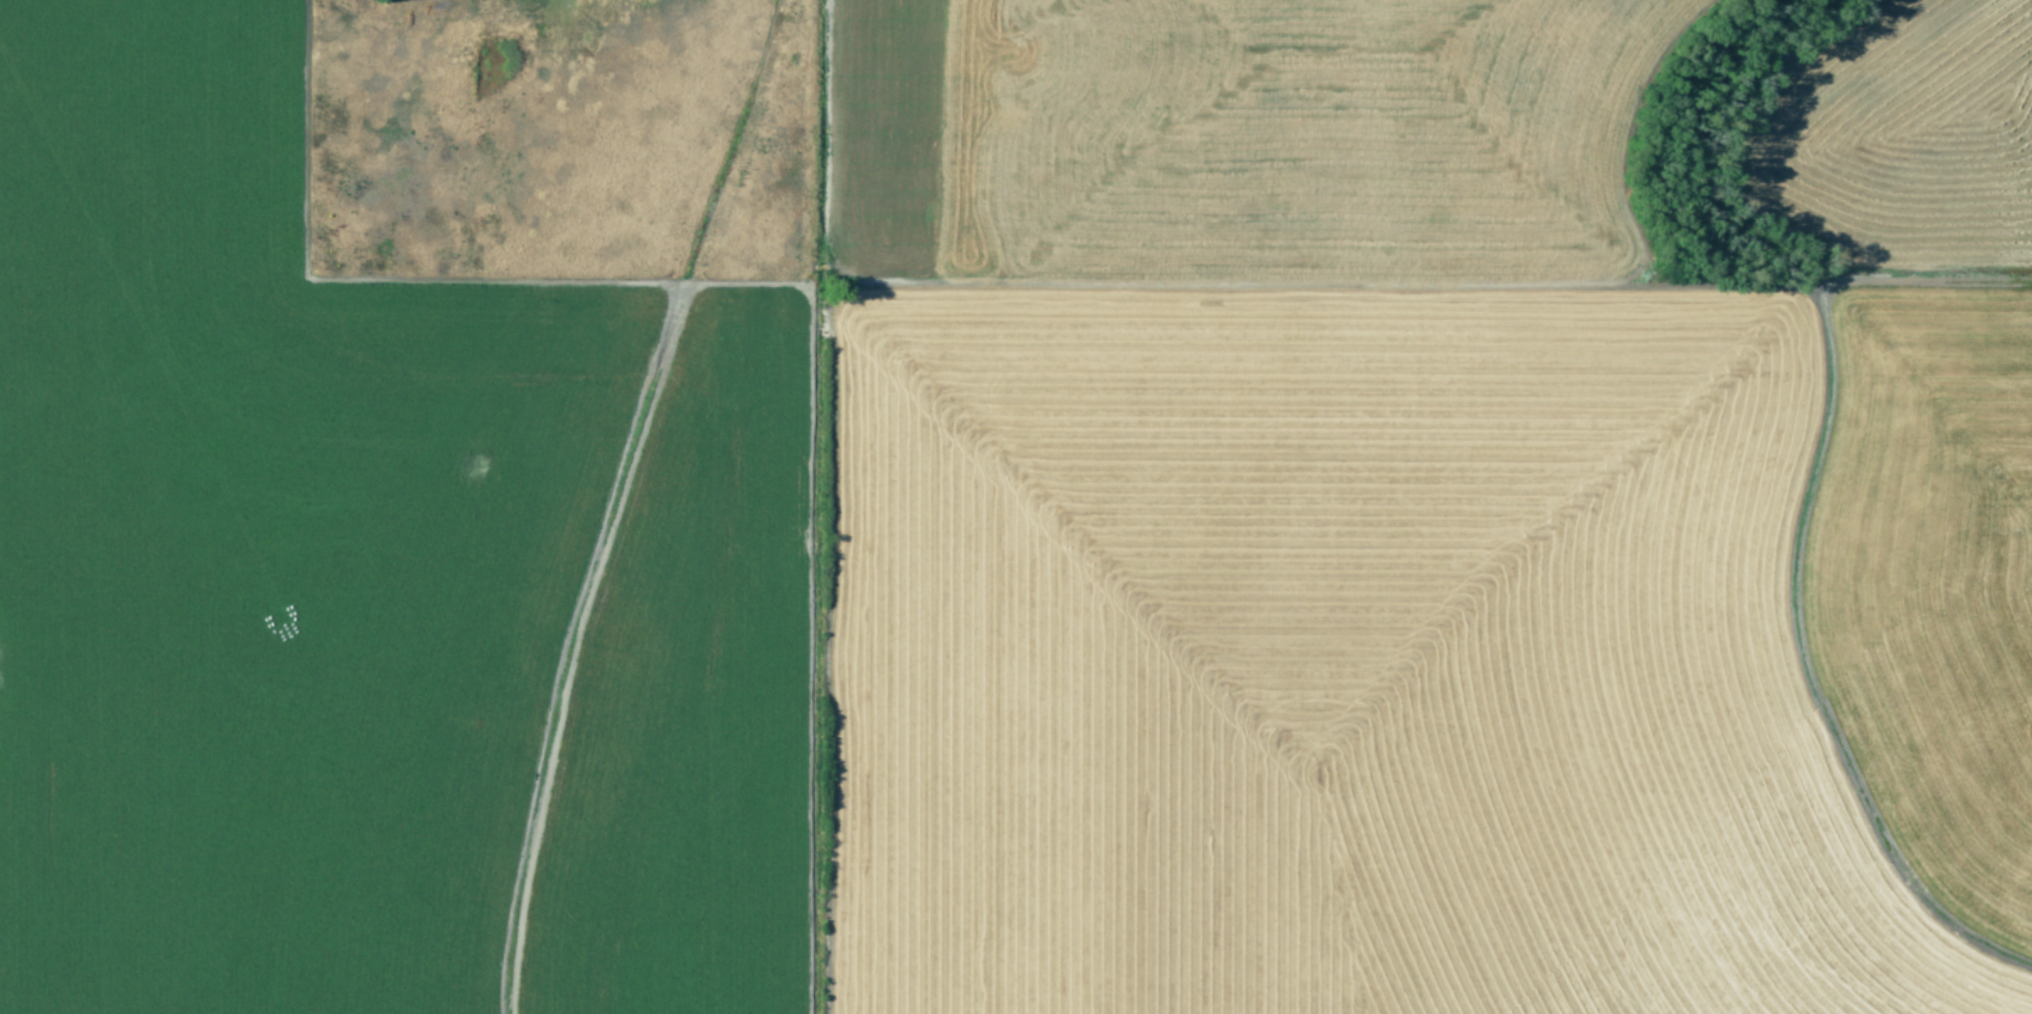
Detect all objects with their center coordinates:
crop: (1016, 507)

